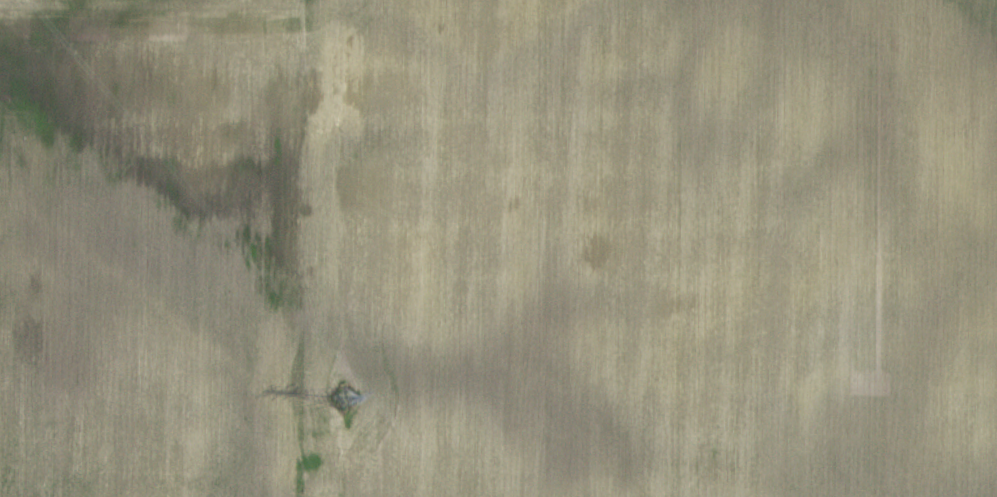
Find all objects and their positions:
power tower: (348, 404)

